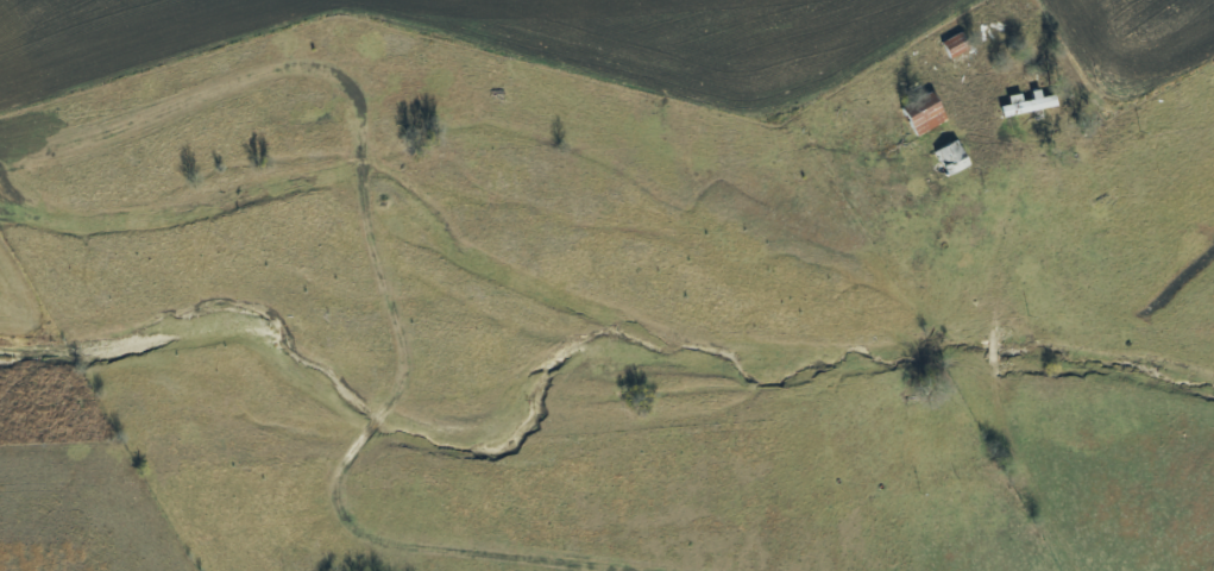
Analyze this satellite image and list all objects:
building: (958, 52)
building: (1029, 103)
building: (921, 114)
building: (950, 158)

